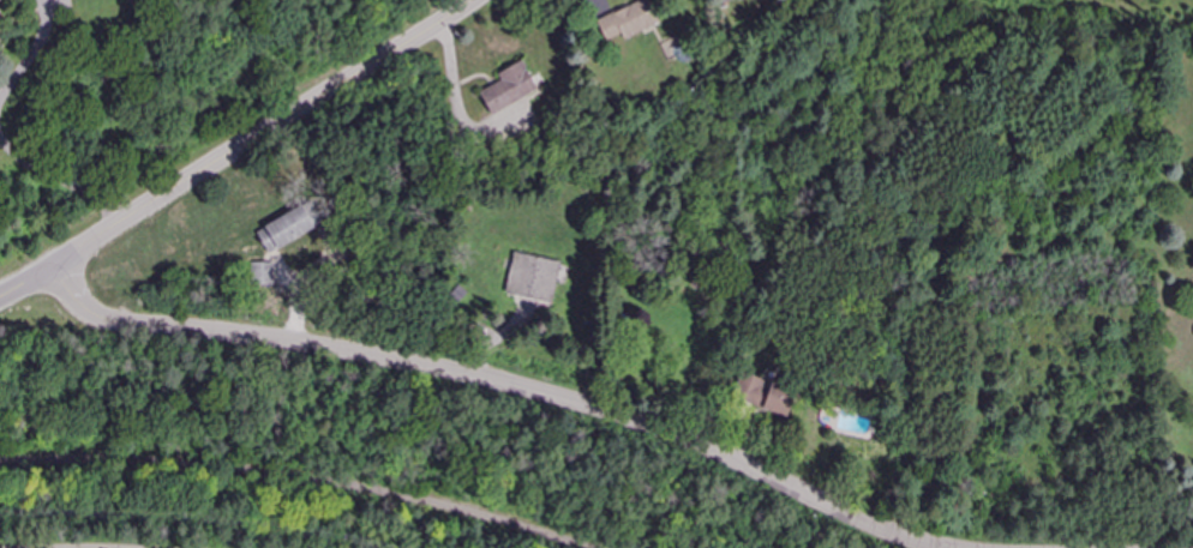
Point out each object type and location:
road: (478, 0)
building: (738, 0)
building: (631, 19)
building: (0, 28)
road: (31, 54)
building: (509, 89)
road: (240, 150)
road: (60, 180)
building: (284, 230)
building: (262, 275)
building: (533, 278)
road: (84, 294)
road: (481, 381)
building: (763, 392)
road: (293, 477)

